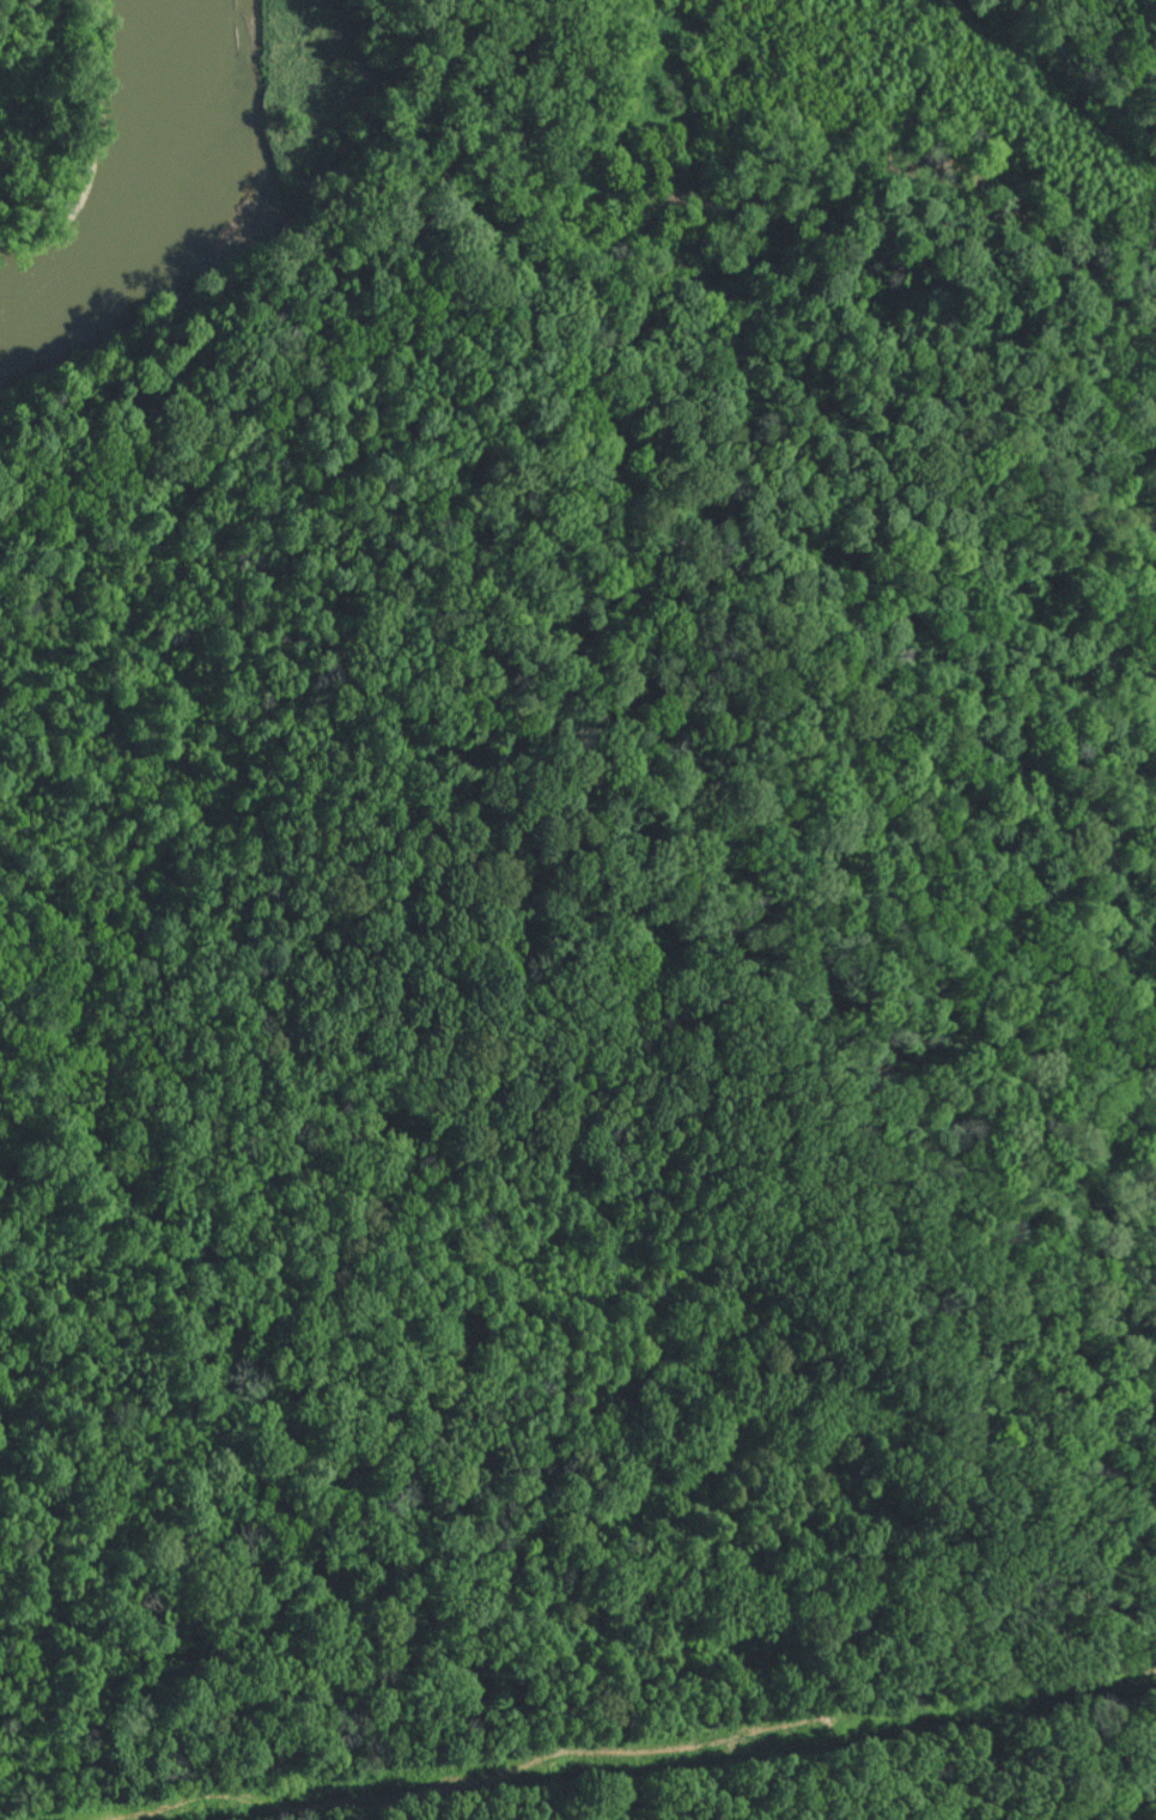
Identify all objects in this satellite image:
river: (182, 206)

